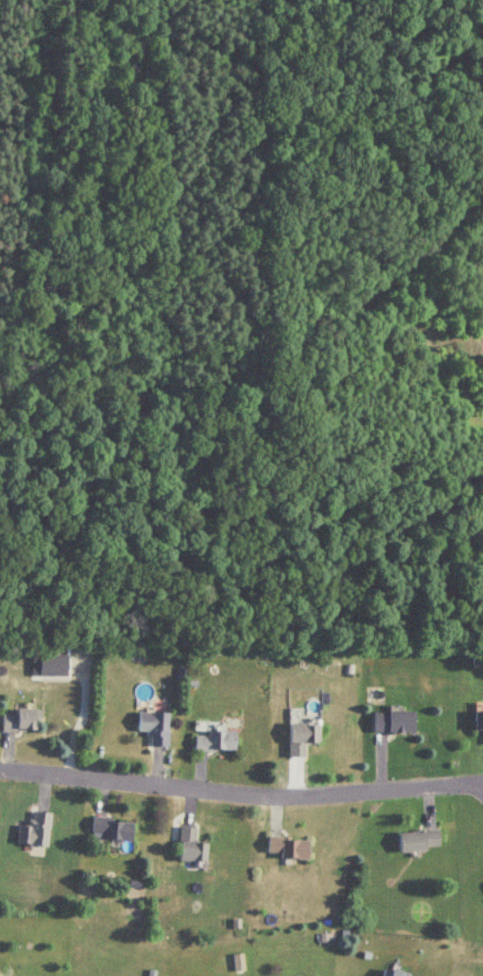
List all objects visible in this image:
building: (18, 721)
building: (476, 721)
building: (390, 722)
building: (150, 728)
building: (297, 739)
building: (210, 742)
road: (240, 797)
building: (31, 831)
building: (108, 831)
building: (415, 841)
building: (187, 847)
building: (283, 849)
building: (389, 974)

